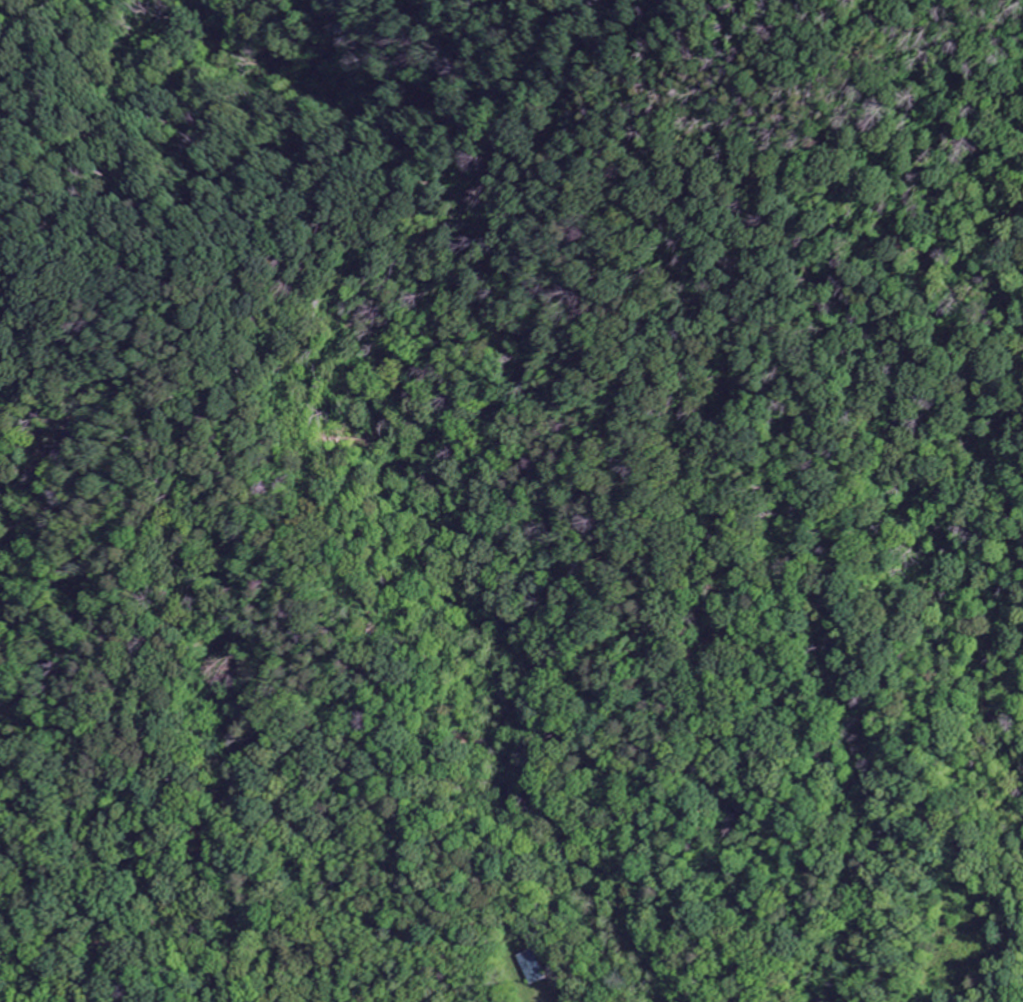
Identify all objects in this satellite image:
road: (1000, 455)
building: (531, 968)

